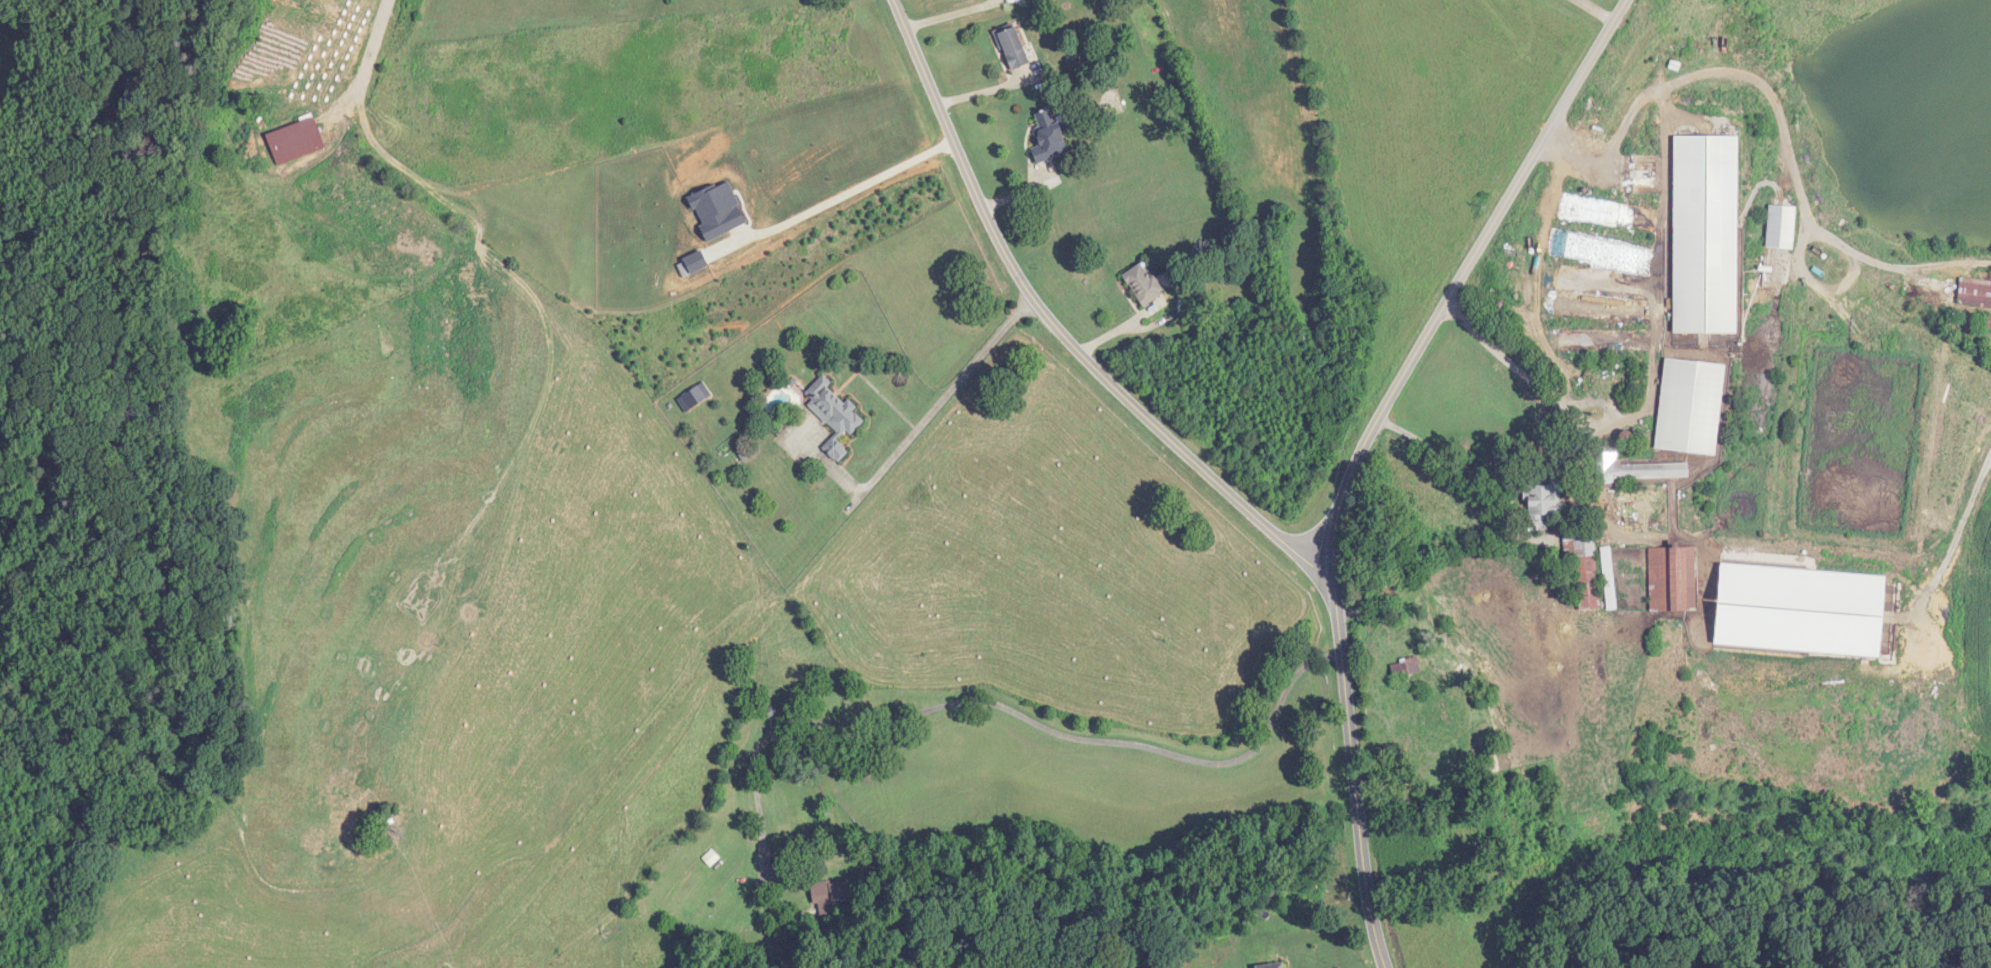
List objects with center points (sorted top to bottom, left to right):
road: (1595, 10)
road: (952, 13)
building: (1014, 48)
road: (372, 51)
road: (1782, 121)
building: (1049, 135)
building: (296, 142)
road: (865, 183)
building: (1785, 225)
building: (1706, 235)
building: (1144, 284)
building: (1975, 292)
building: (1987, 322)
road: (1059, 330)
building: (1691, 406)
building: (834, 408)
road: (932, 412)
building: (838, 451)
road: (1360, 451)
building: (1641, 471)
road: (1576, 502)
building: (1545, 503)
building: (1585, 571)
building: (1610, 579)
building: (1676, 579)
building: (1405, 667)
road: (1014, 712)
building: (826, 899)
building: (1276, 966)

